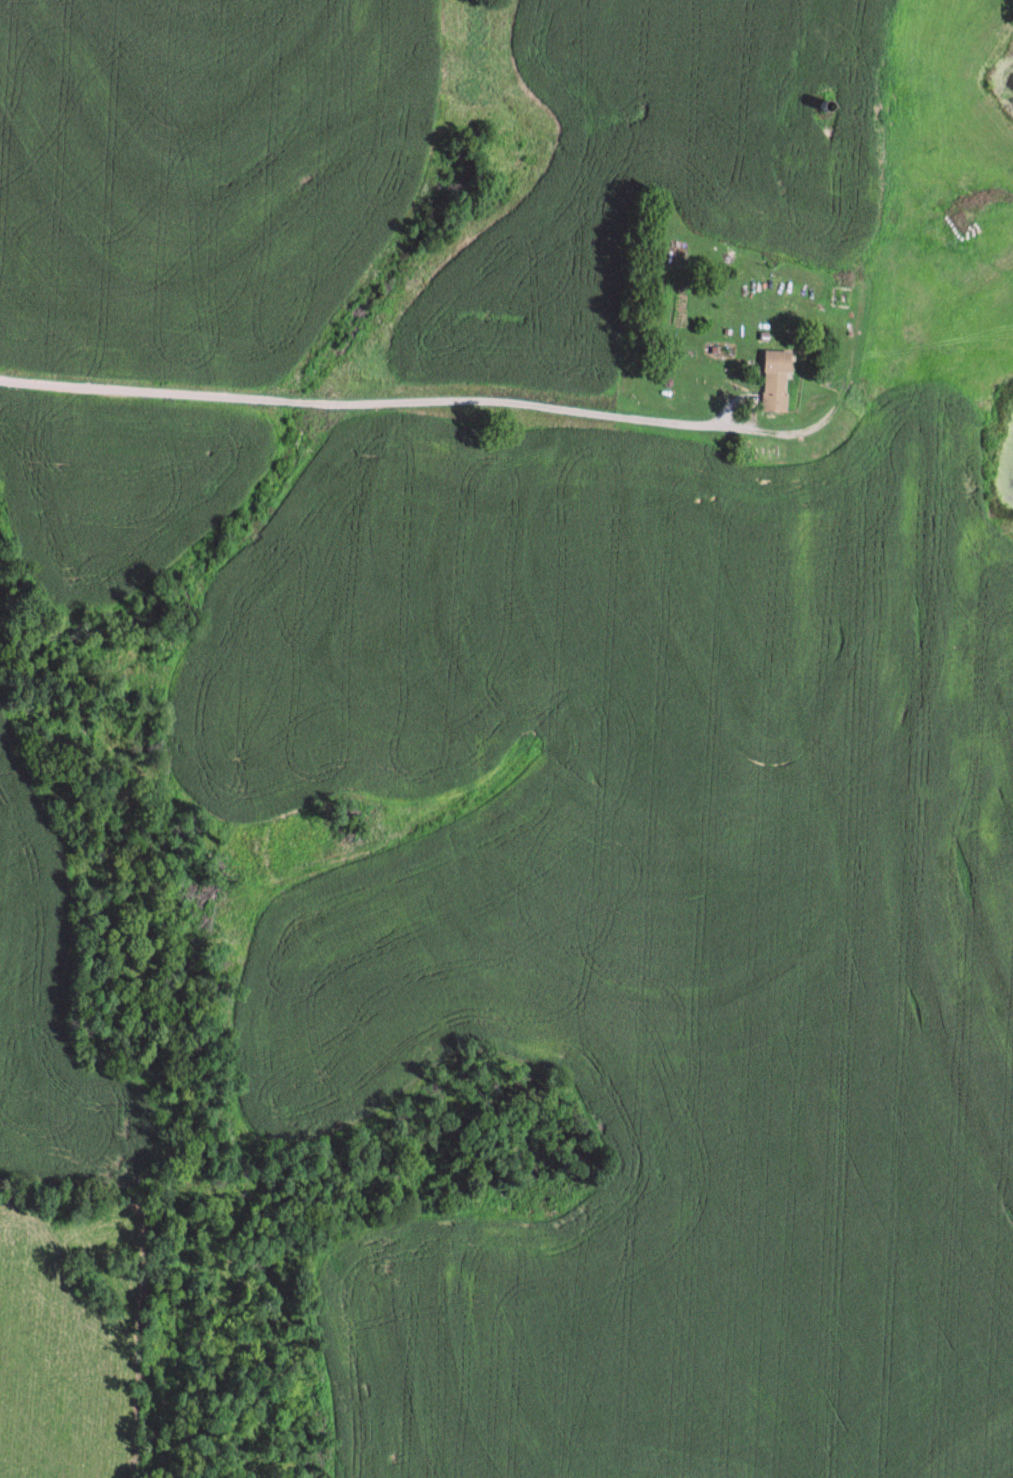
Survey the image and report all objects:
building: (806, 156)
building: (764, 280)
building: (837, 298)
building: (767, 327)
building: (771, 382)
road: (514, 405)

